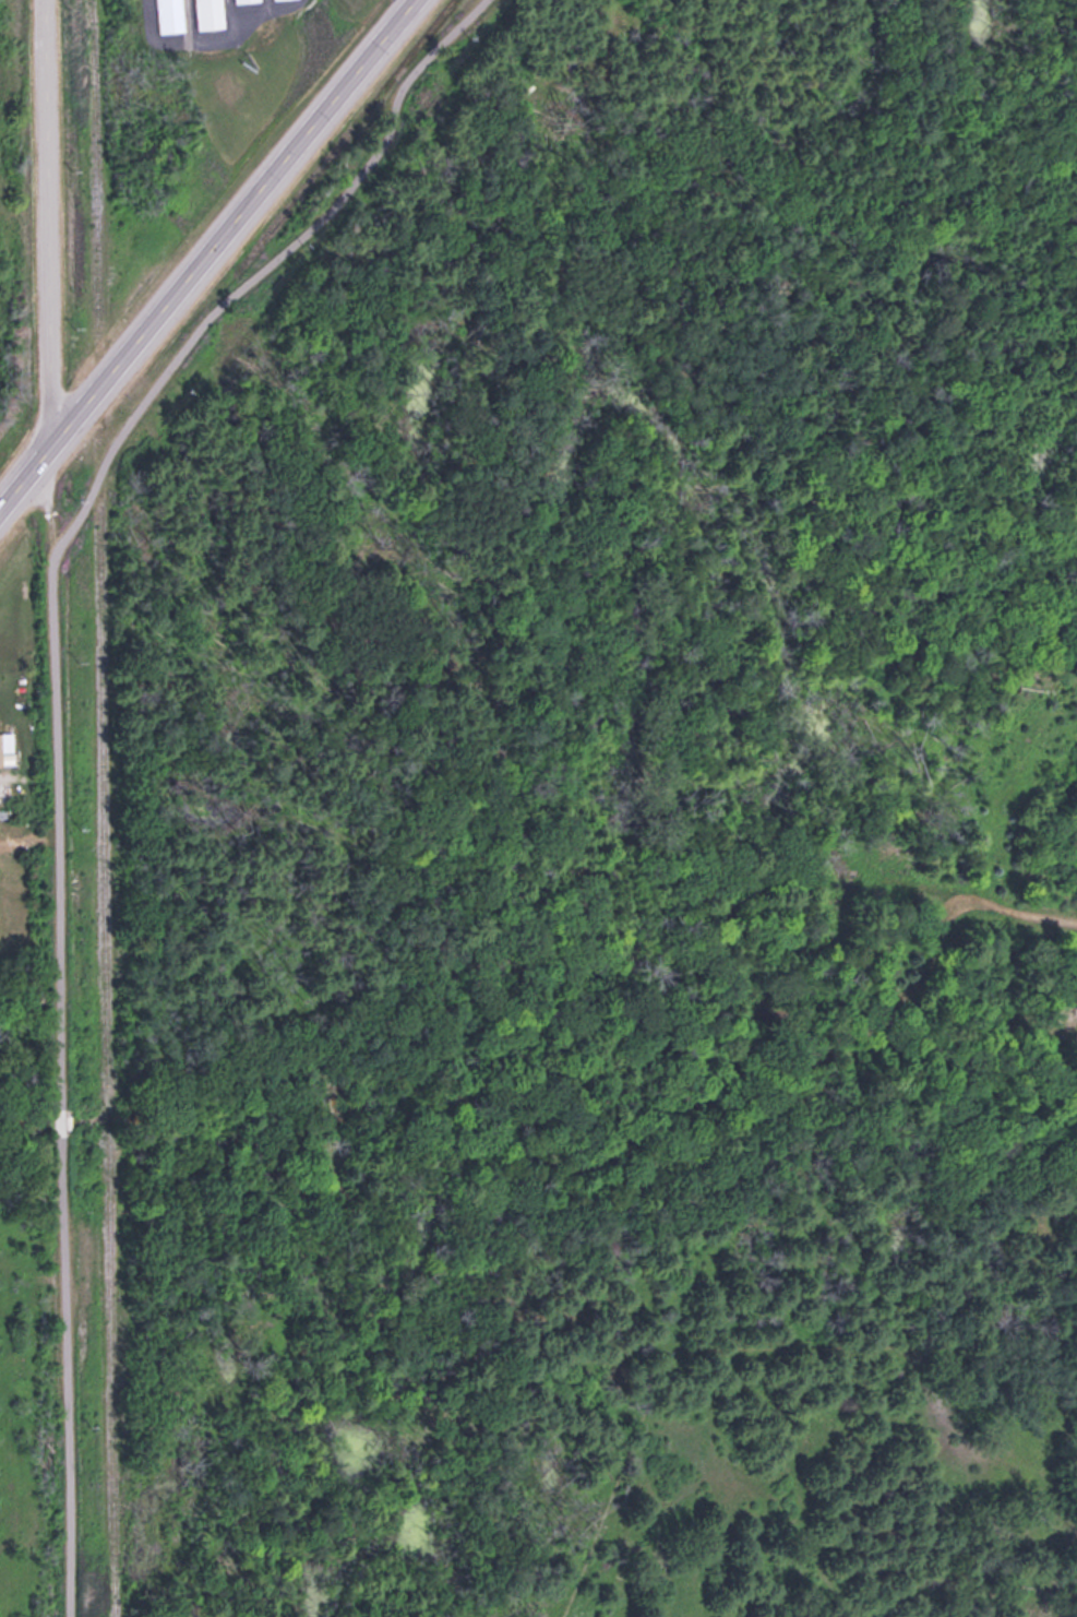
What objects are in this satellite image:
building: (234, 0)
building: (207, 13)
road: (228, 221)
road: (41, 222)
road: (23, 474)
road: (53, 734)
building: (0, 746)
building: (4, 789)

